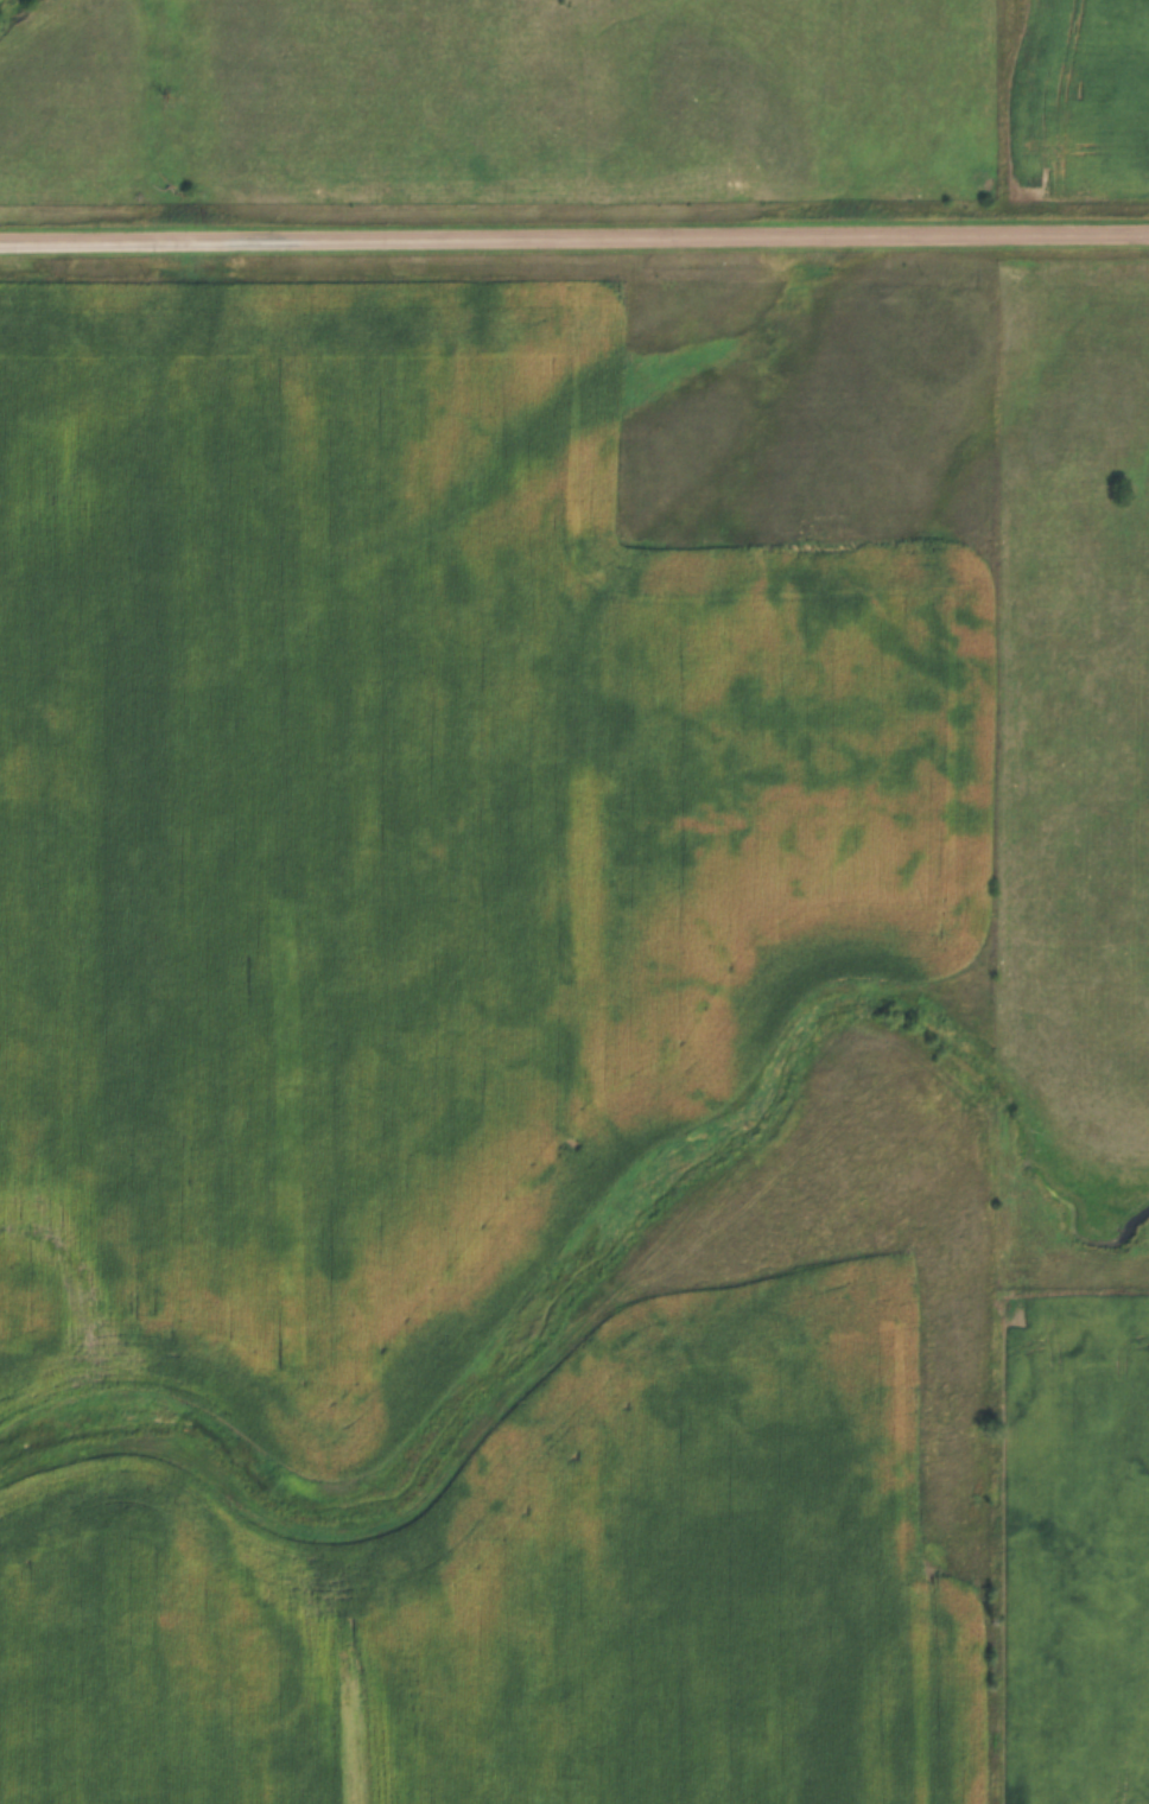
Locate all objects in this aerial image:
road: (574, 240)

